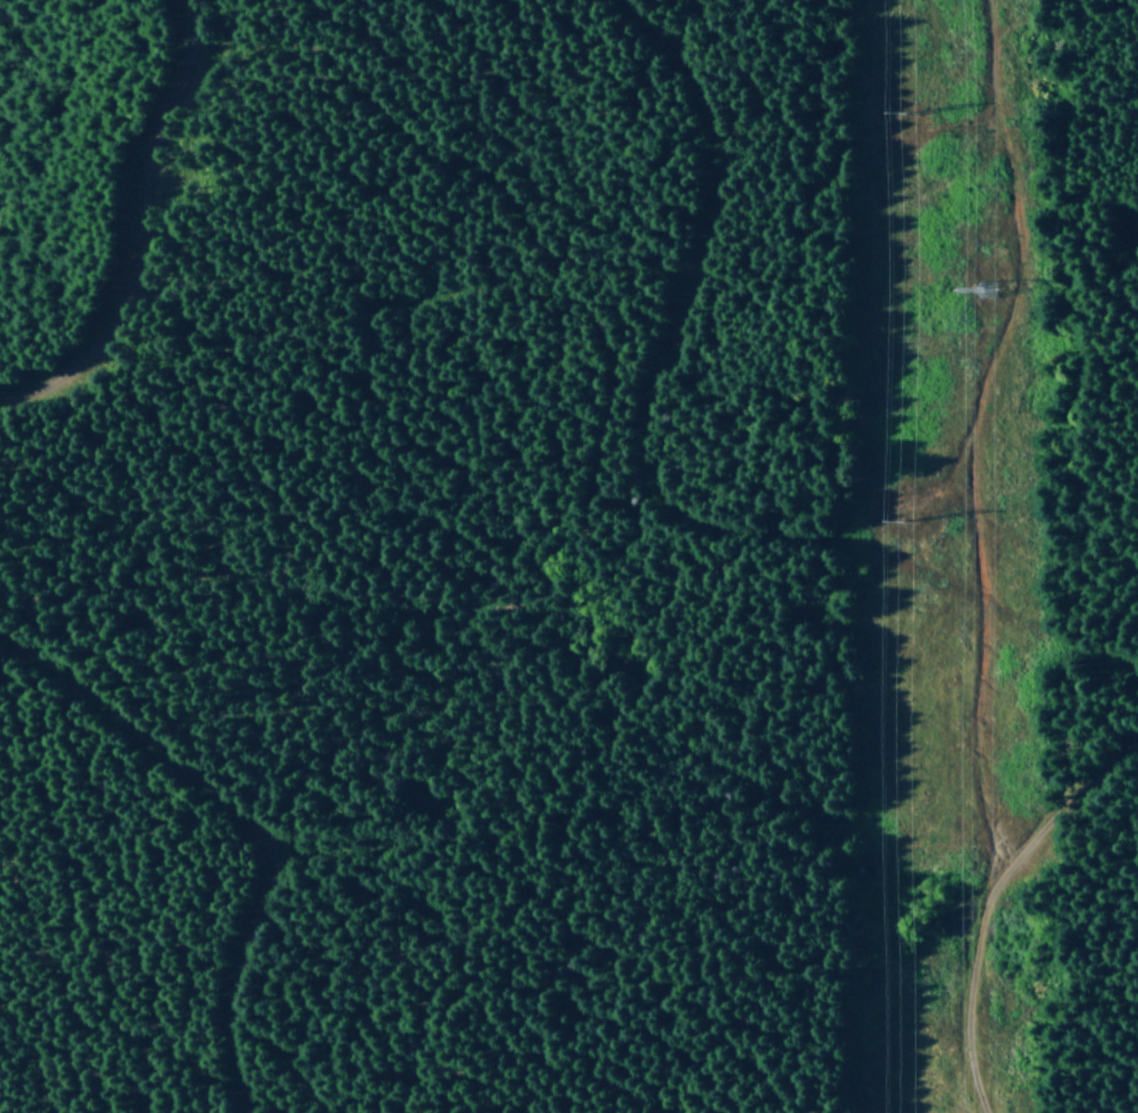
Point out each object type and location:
power tower: (897, 116)
power tower: (975, 291)
power tower: (902, 519)

